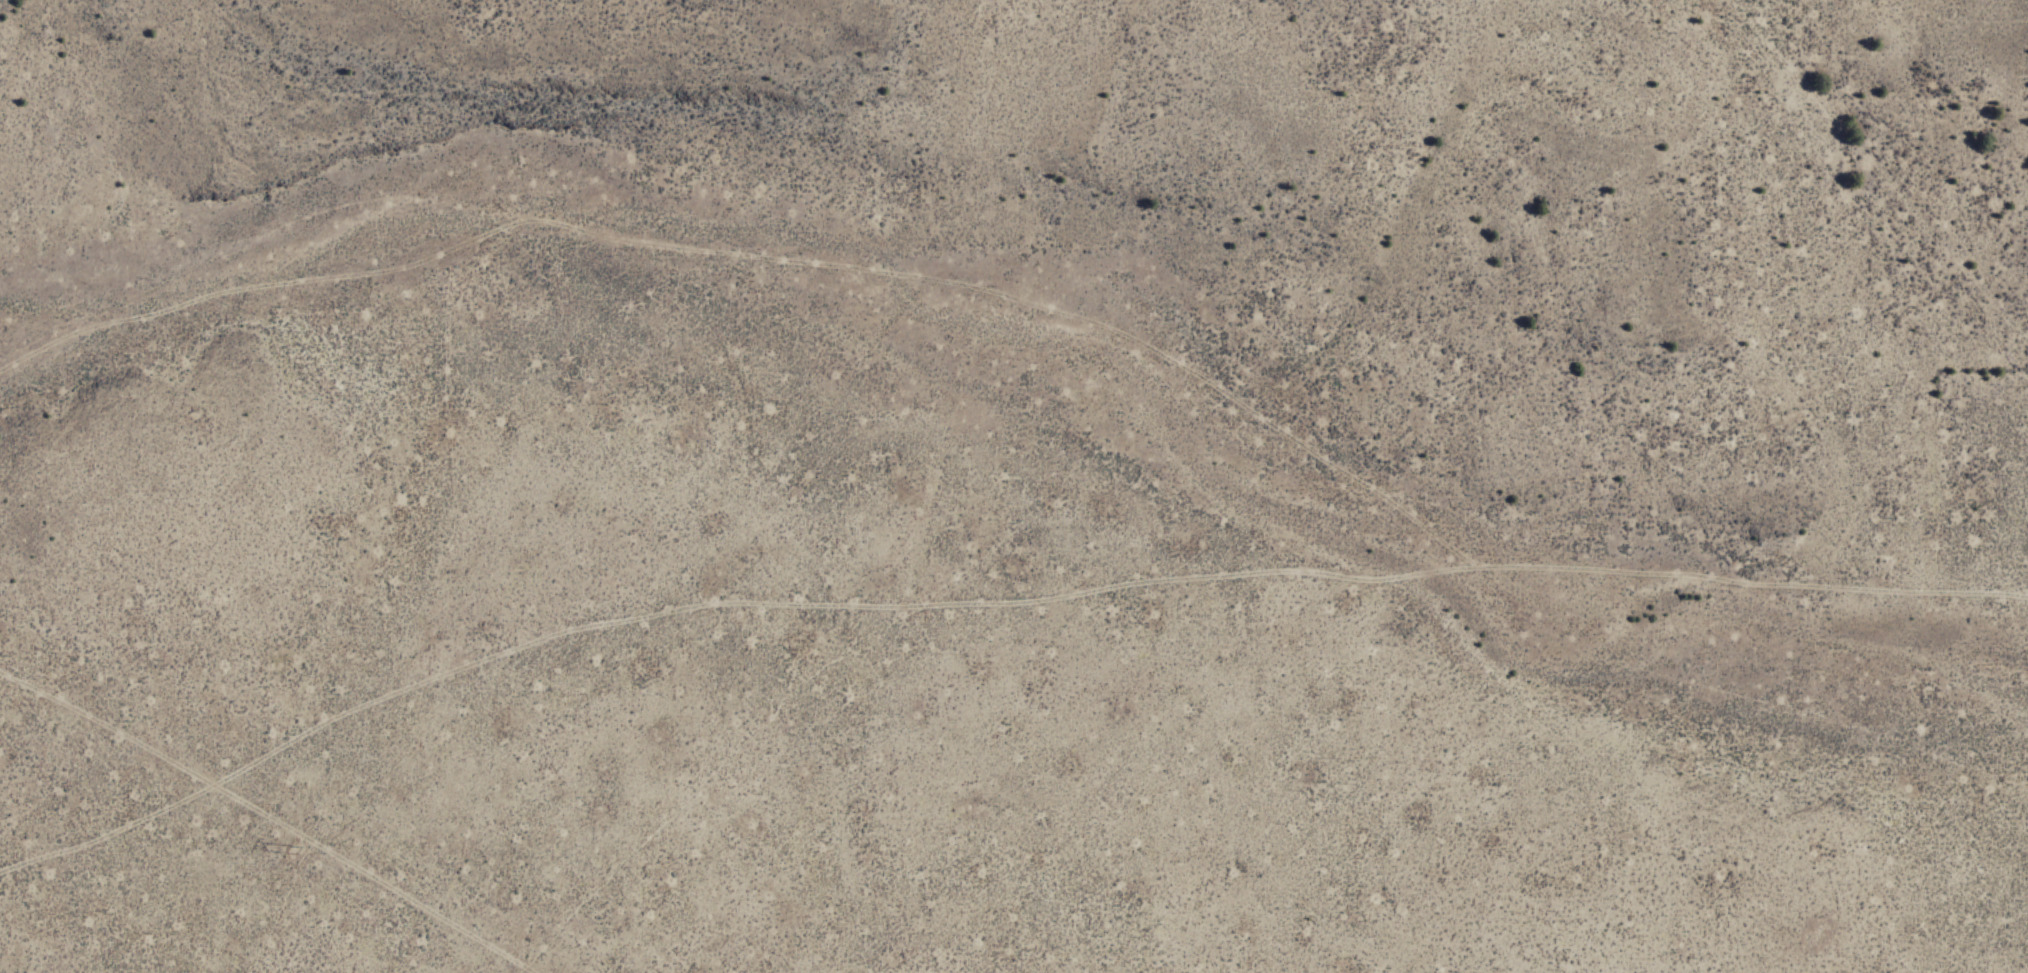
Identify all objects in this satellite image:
road: (986, 579)
power tower: (293, 850)

